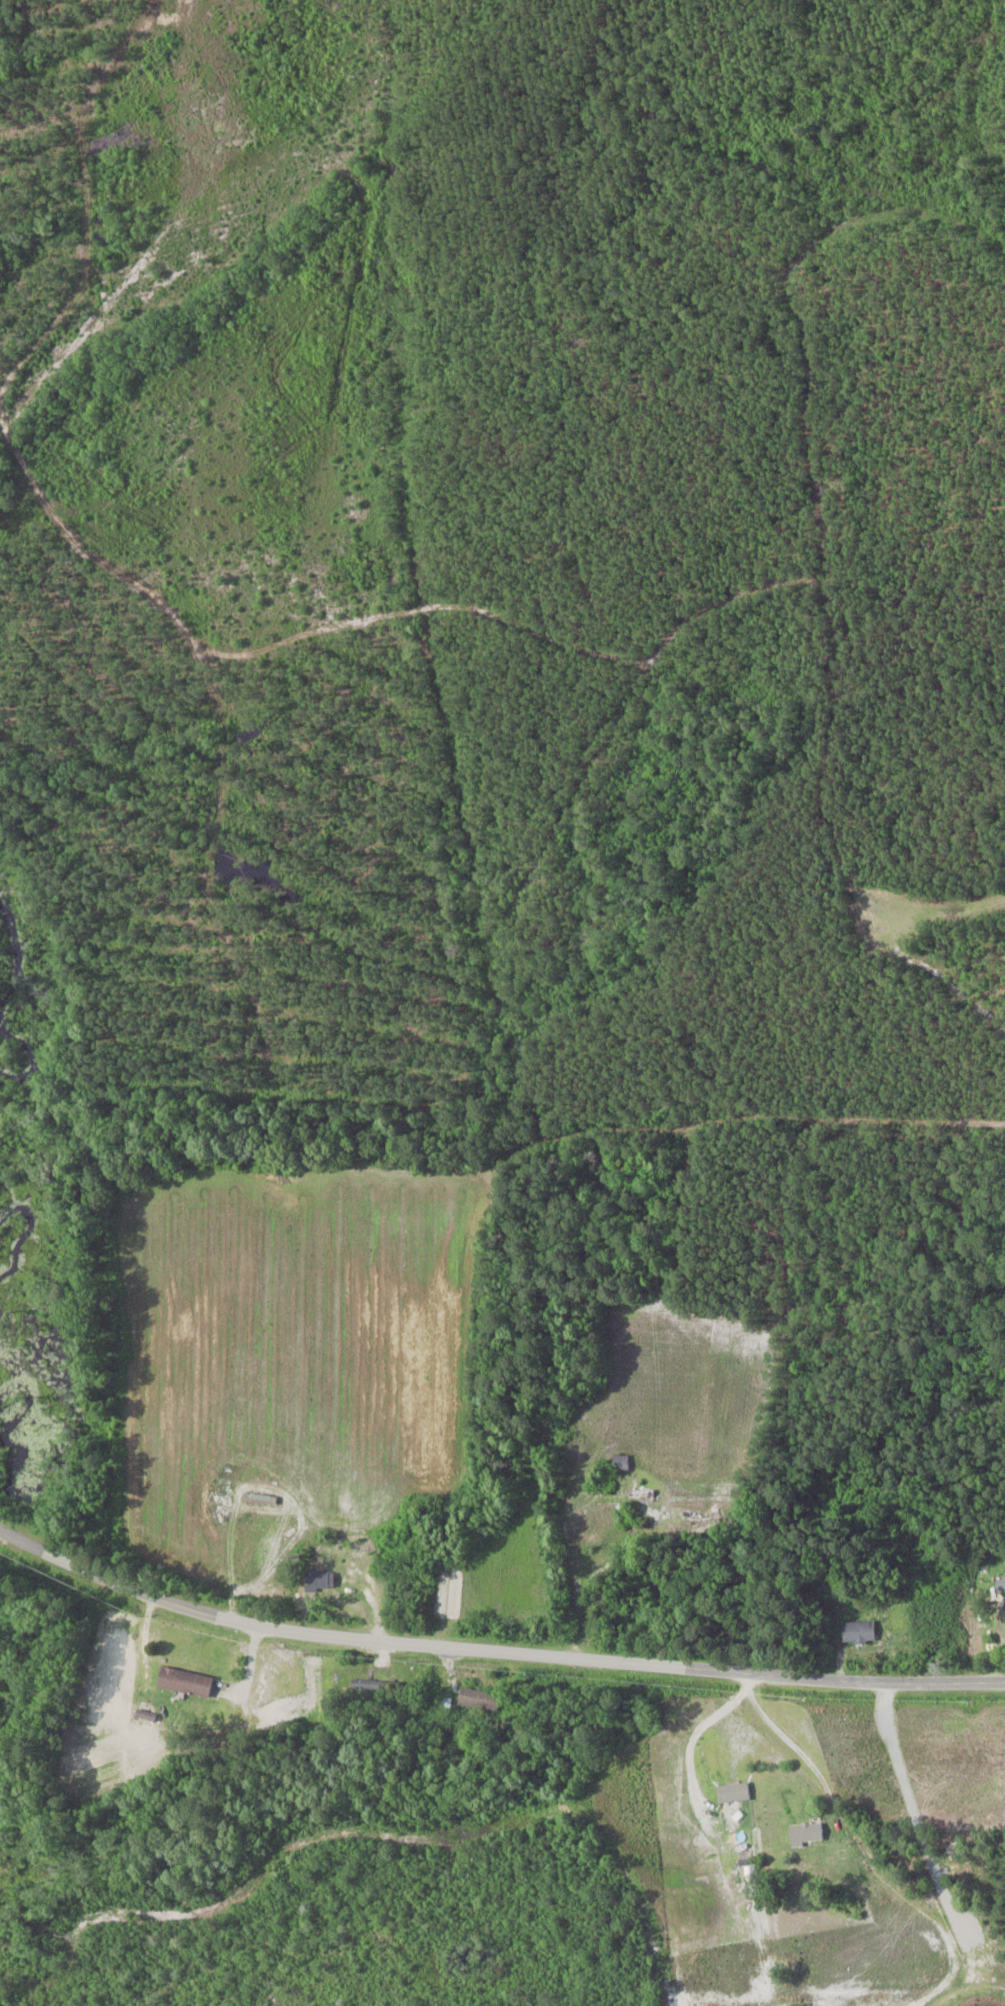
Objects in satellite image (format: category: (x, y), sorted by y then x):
building: (621, 1463)
building: (260, 1499)
road: (229, 1561)
building: (320, 1581)
building: (1001, 1585)
building: (860, 1632)
road: (493, 1650)
building: (186, 1682)
building: (477, 1699)
building: (446, 1705)
road: (790, 1744)
building: (807, 1832)

